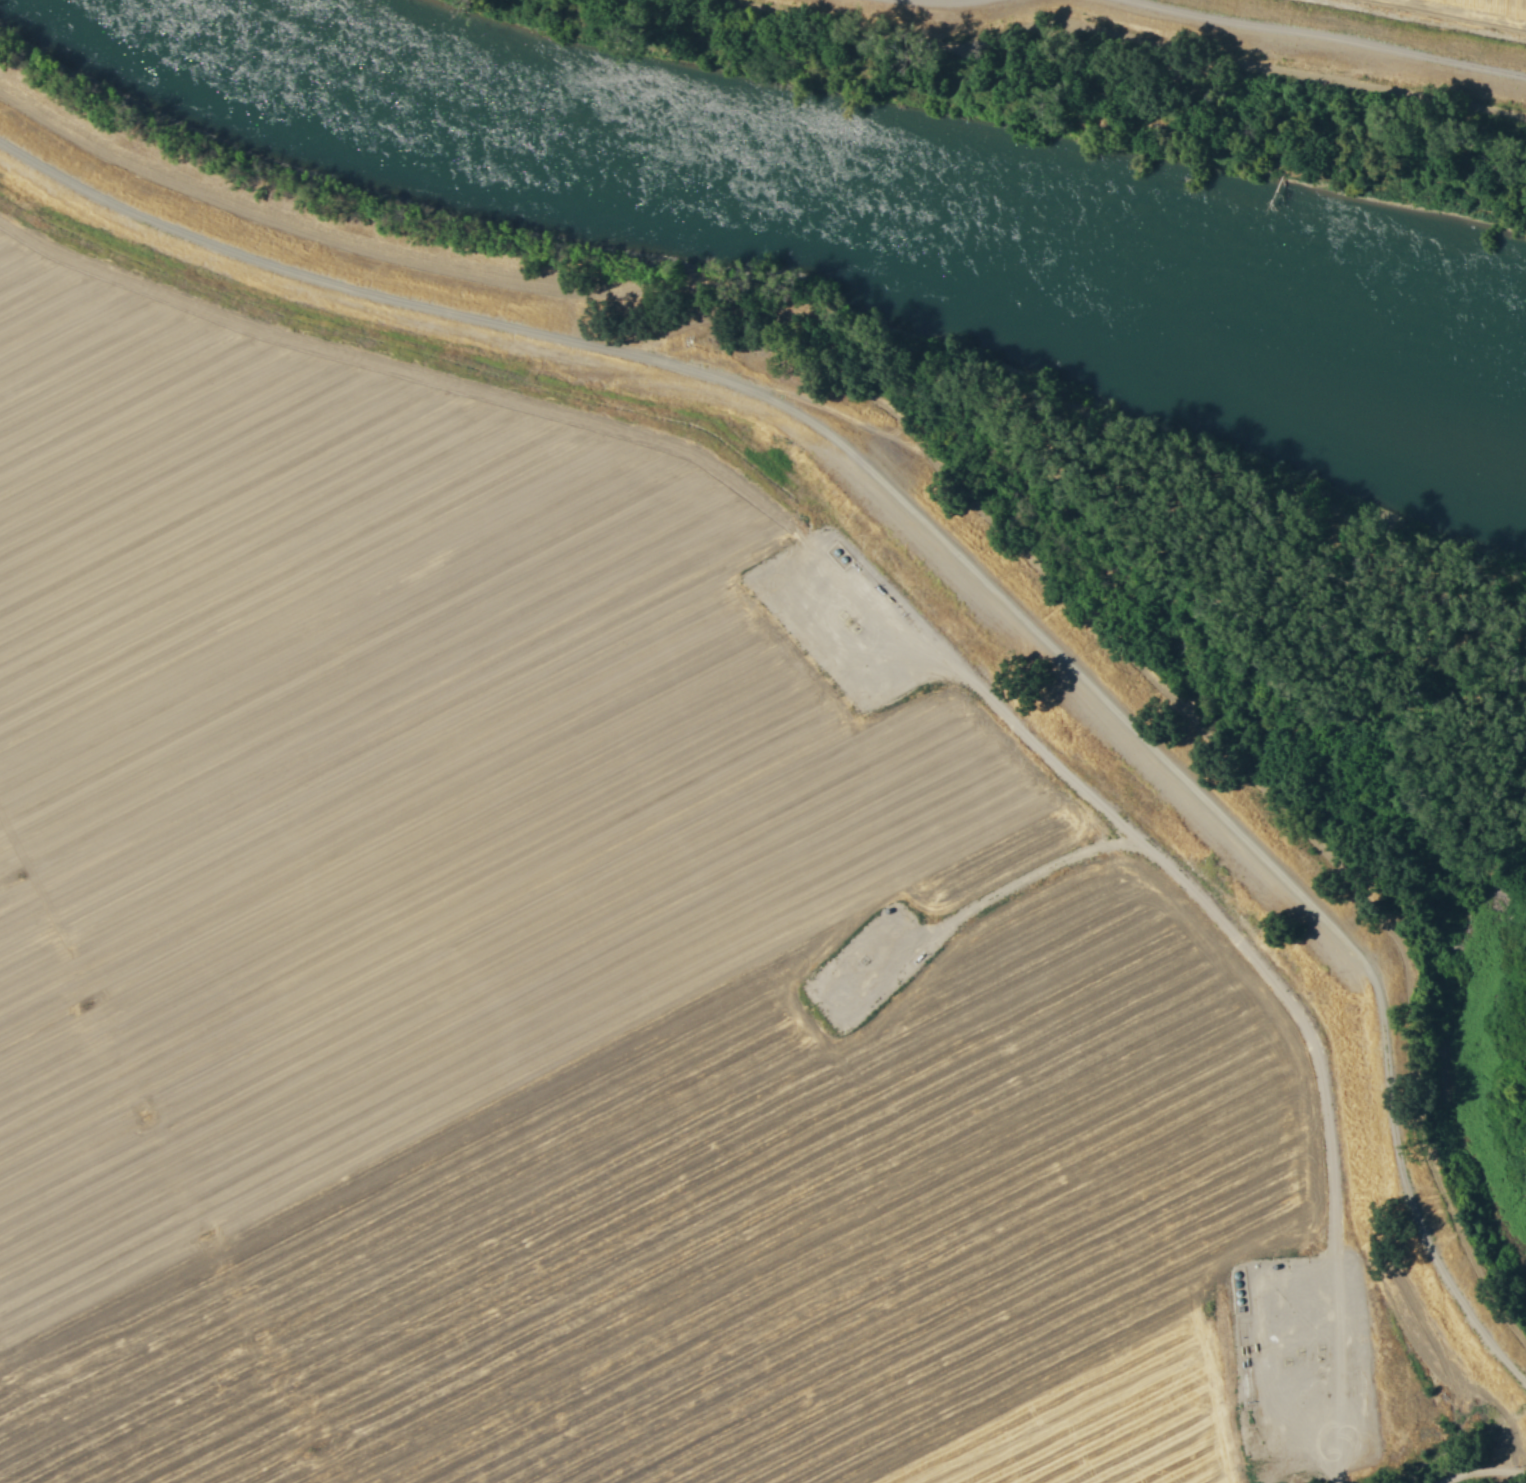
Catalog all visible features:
road: (939, 4)
road: (1330, 35)
river: (850, 205)
road: (945, 542)
road: (1476, 1463)

